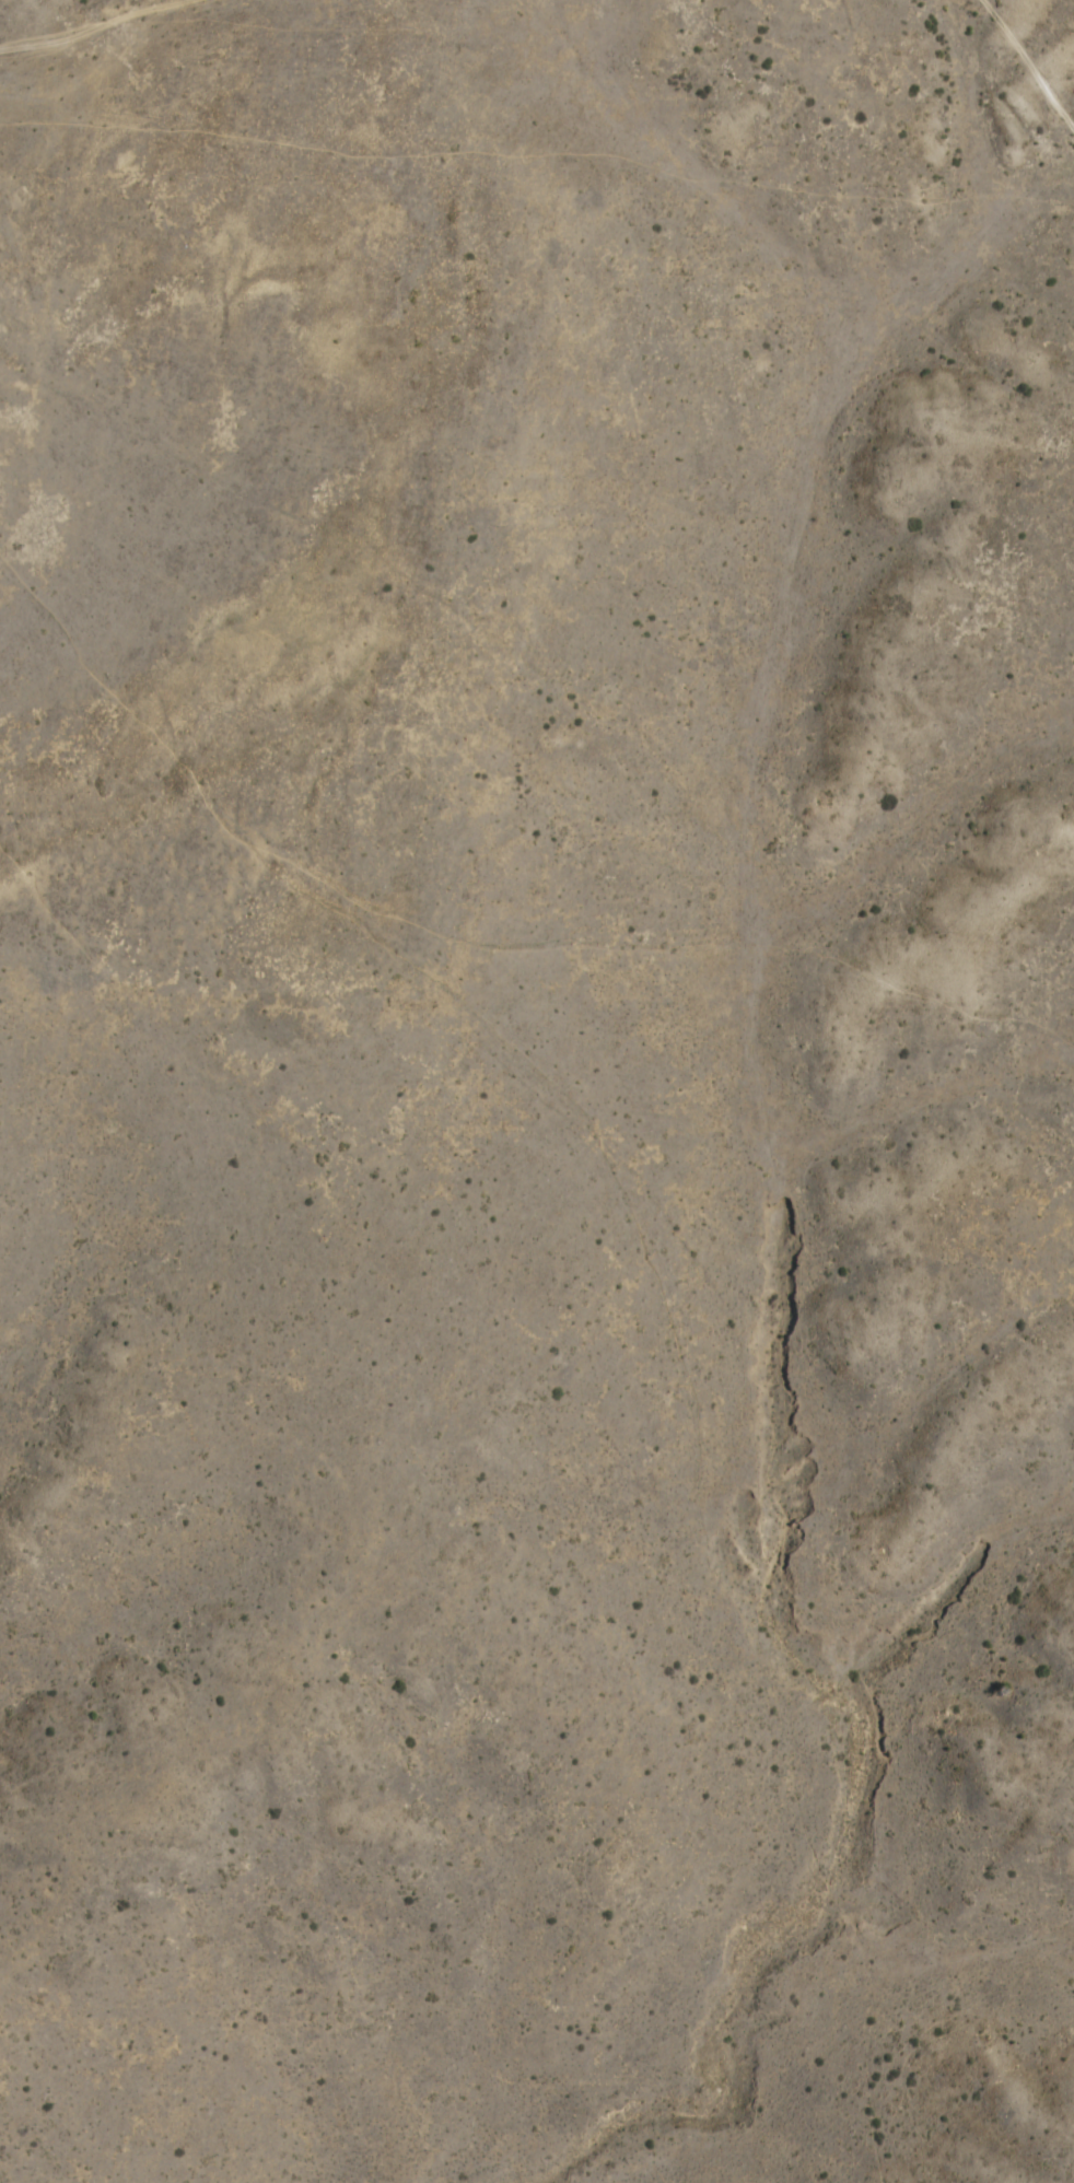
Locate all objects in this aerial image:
road: (35, 8)
road: (1007, 84)

